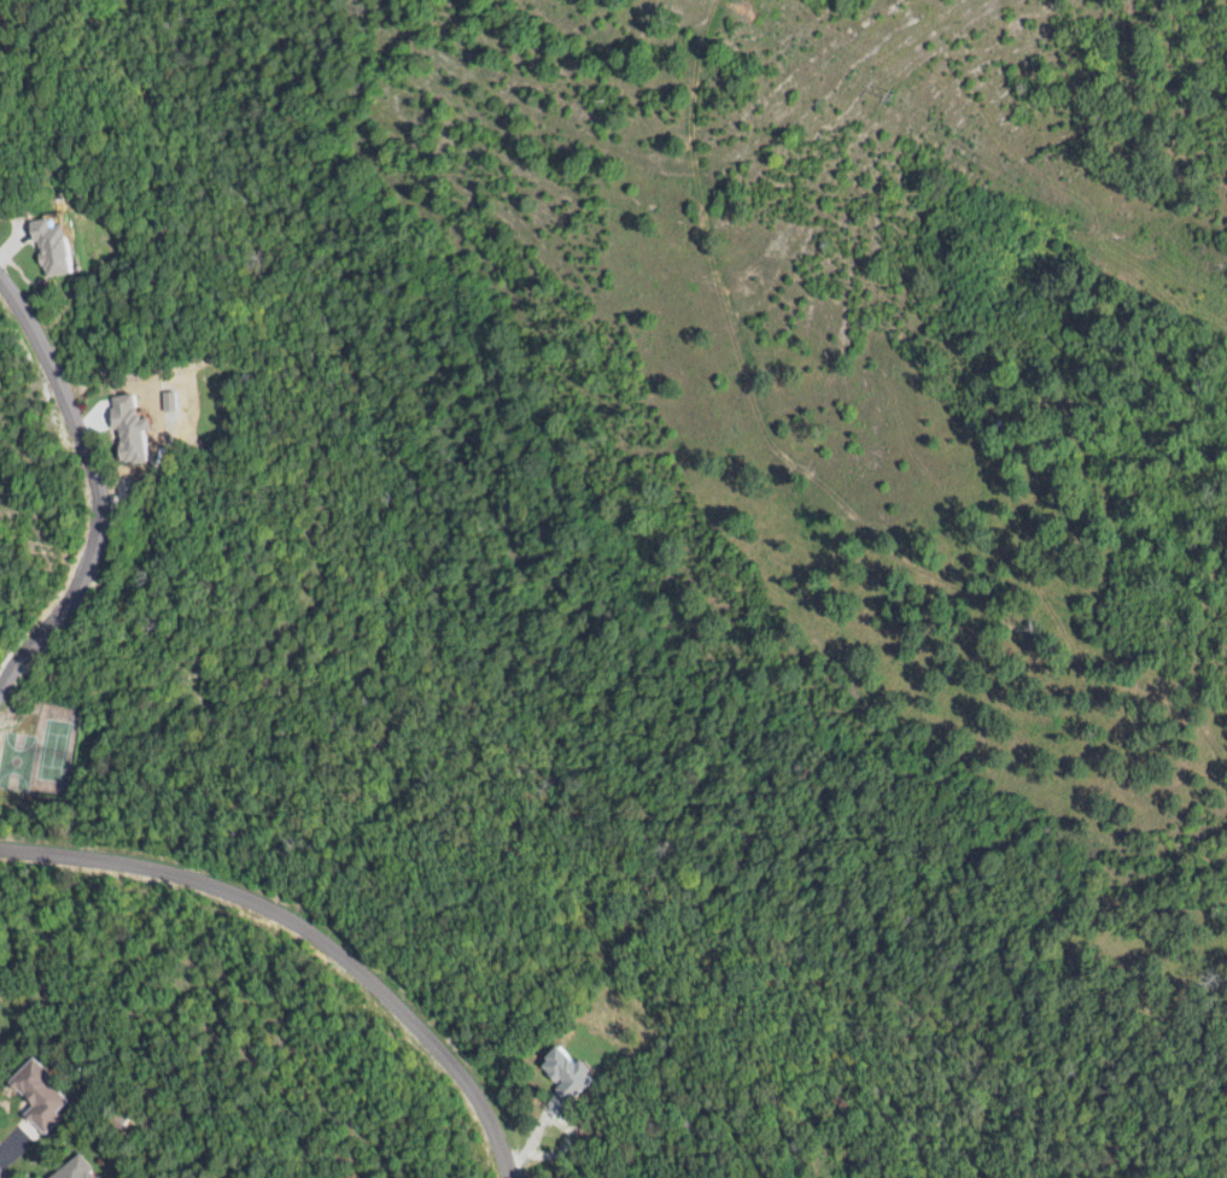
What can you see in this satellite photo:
power tower: (892, 95)
building: (64, 247)
building: (141, 427)
road: (93, 481)
road: (311, 927)
building: (562, 1071)
building: (47, 1095)
building: (72, 1171)

